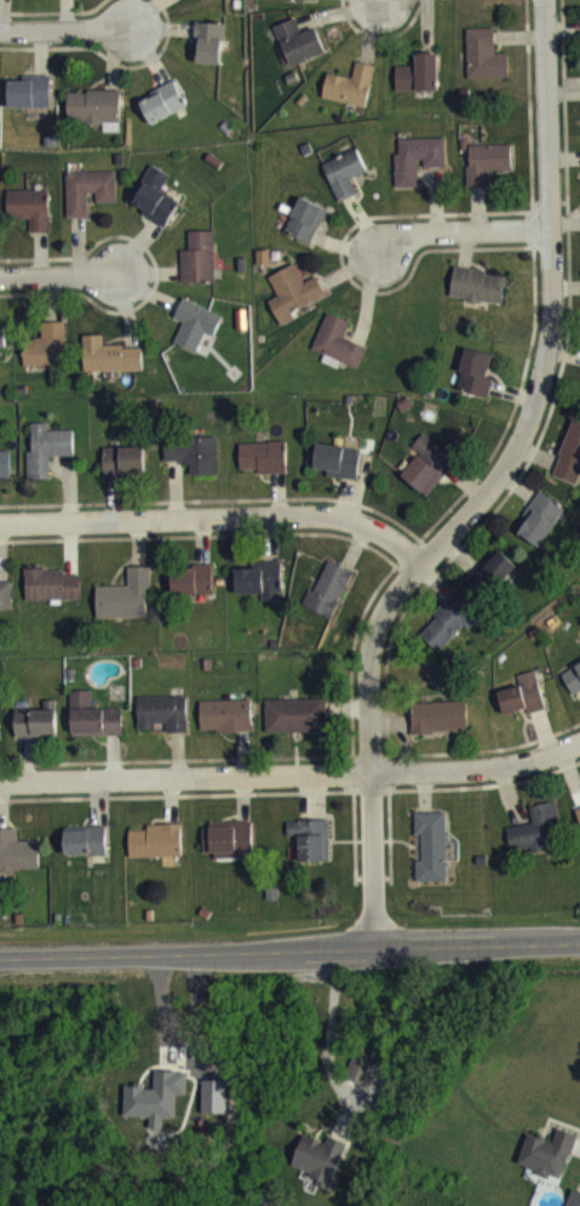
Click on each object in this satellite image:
building: (12, 0)
building: (33, 0)
building: (189, 1)
building: (302, 6)
road: (62, 33)
building: (209, 56)
building: (299, 56)
building: (486, 69)
building: (419, 87)
building: (351, 99)
building: (29, 105)
building: (162, 116)
building: (94, 122)
building: (418, 172)
building: (488, 176)
building: (345, 186)
building: (90, 203)
building: (155, 211)
building: (30, 222)
road: (461, 230)
building: (306, 234)
building: (200, 271)
road: (57, 272)
building: (478, 299)
building: (294, 308)
building: (195, 338)
building: (2, 350)
building: (338, 356)
building: (47, 360)
building: (110, 369)
building: (476, 386)
building: (47, 463)
building: (194, 467)
building: (264, 470)
building: (570, 470)
building: (339, 473)
building: (124, 475)
building: (5, 477)
building: (427, 478)
road: (489, 484)
road: (216, 517)
building: (541, 532)
building: (494, 586)
building: (193, 593)
building: (262, 593)
building: (51, 598)
building: (329, 602)
building: (6, 609)
building: (125, 609)
building: (450, 634)
building: (573, 691)
building: (523, 708)
building: (163, 725)
building: (93, 729)
building: (226, 729)
building: (295, 729)
building: (440, 730)
building: (35, 736)
road: (291, 776)
building: (578, 826)
building: (536, 844)
building: (228, 852)
building: (311, 852)
building: (86, 854)
building: (156, 855)
building: (432, 860)
building: (17, 866)
road: (289, 944)
road: (331, 1040)
building: (360, 1082)
building: (156, 1110)
building: (214, 1110)
building: (547, 1167)
building: (320, 1172)
building: (574, 1205)

